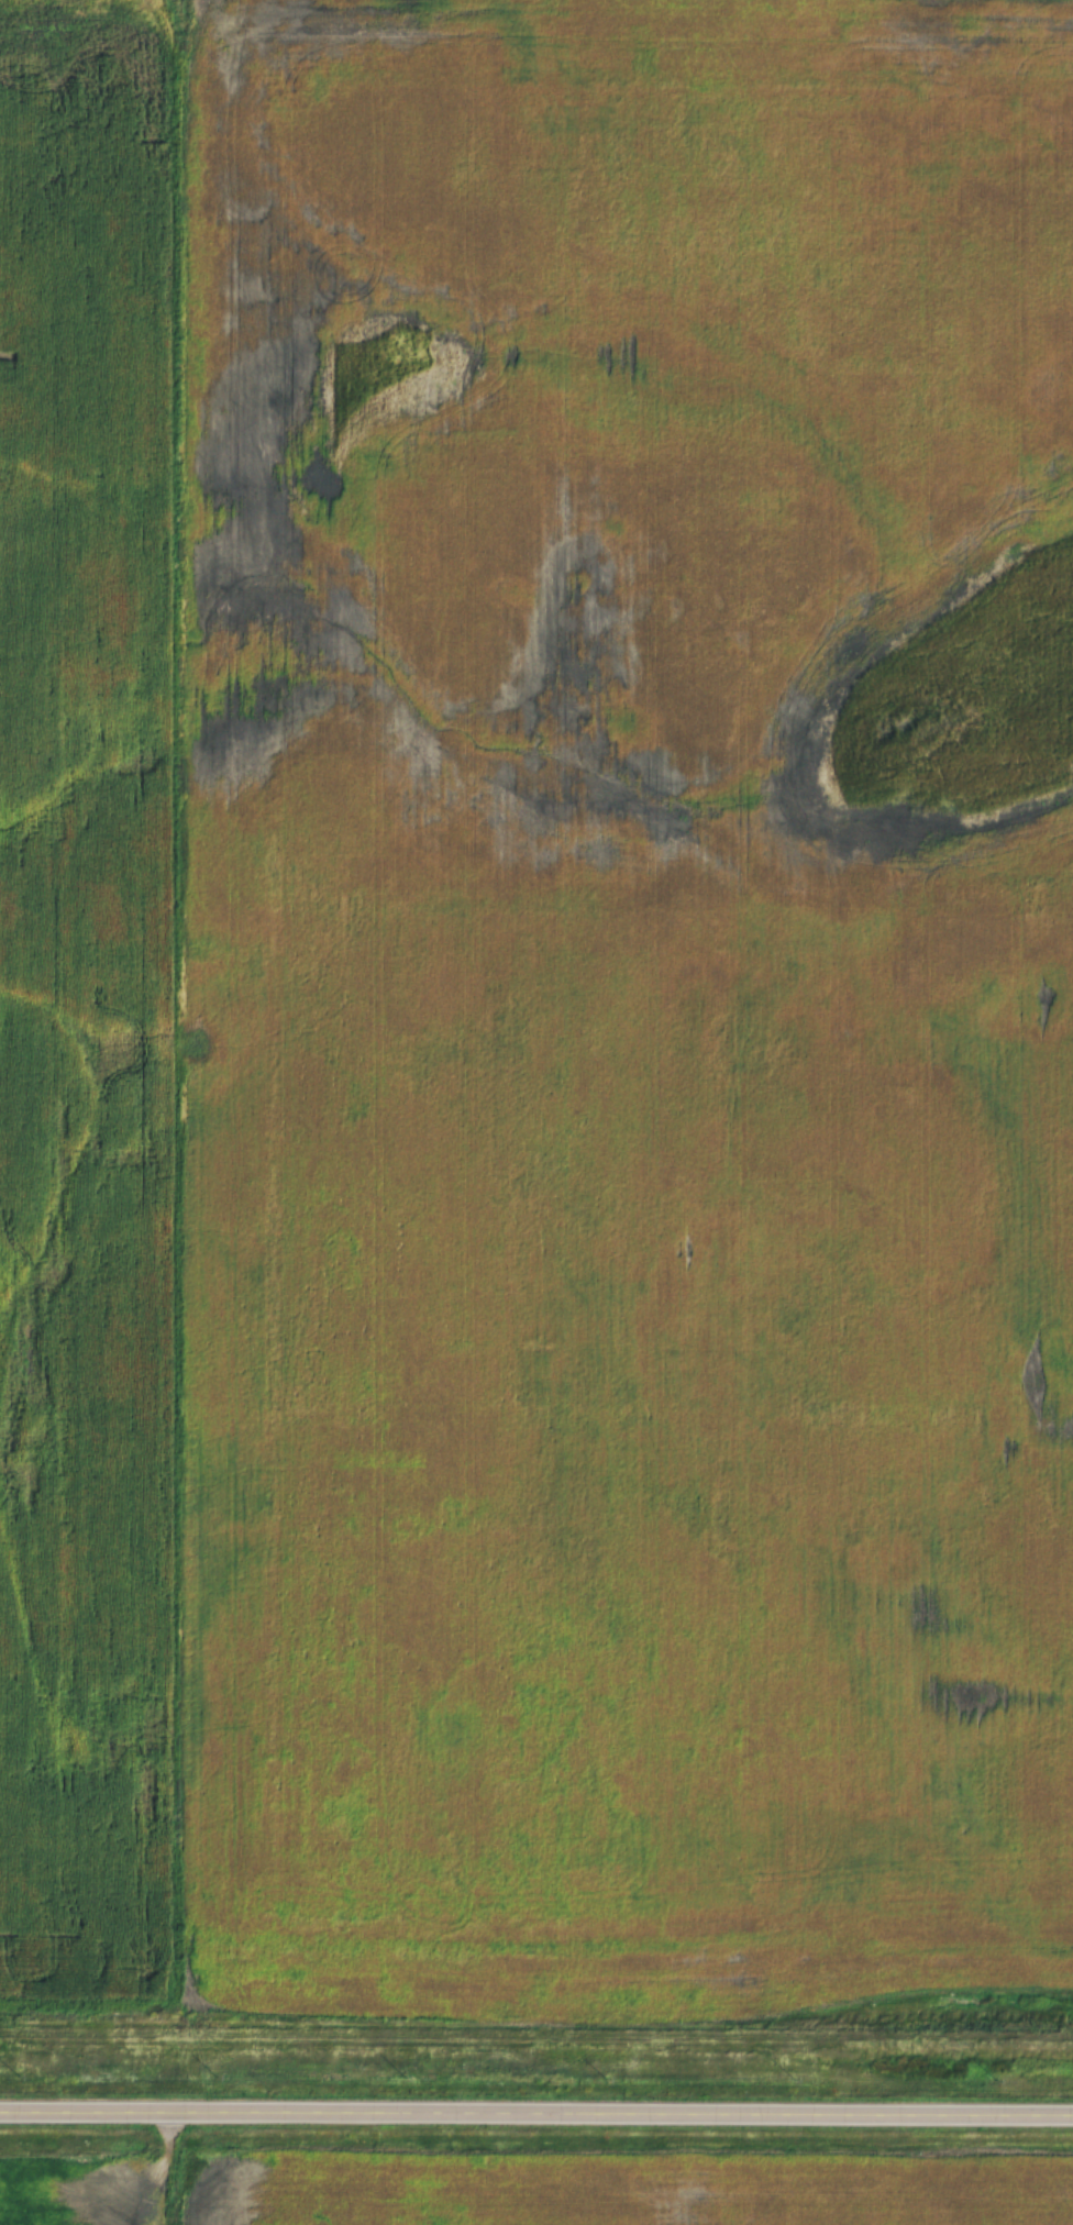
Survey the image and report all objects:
road: (536, 2114)

